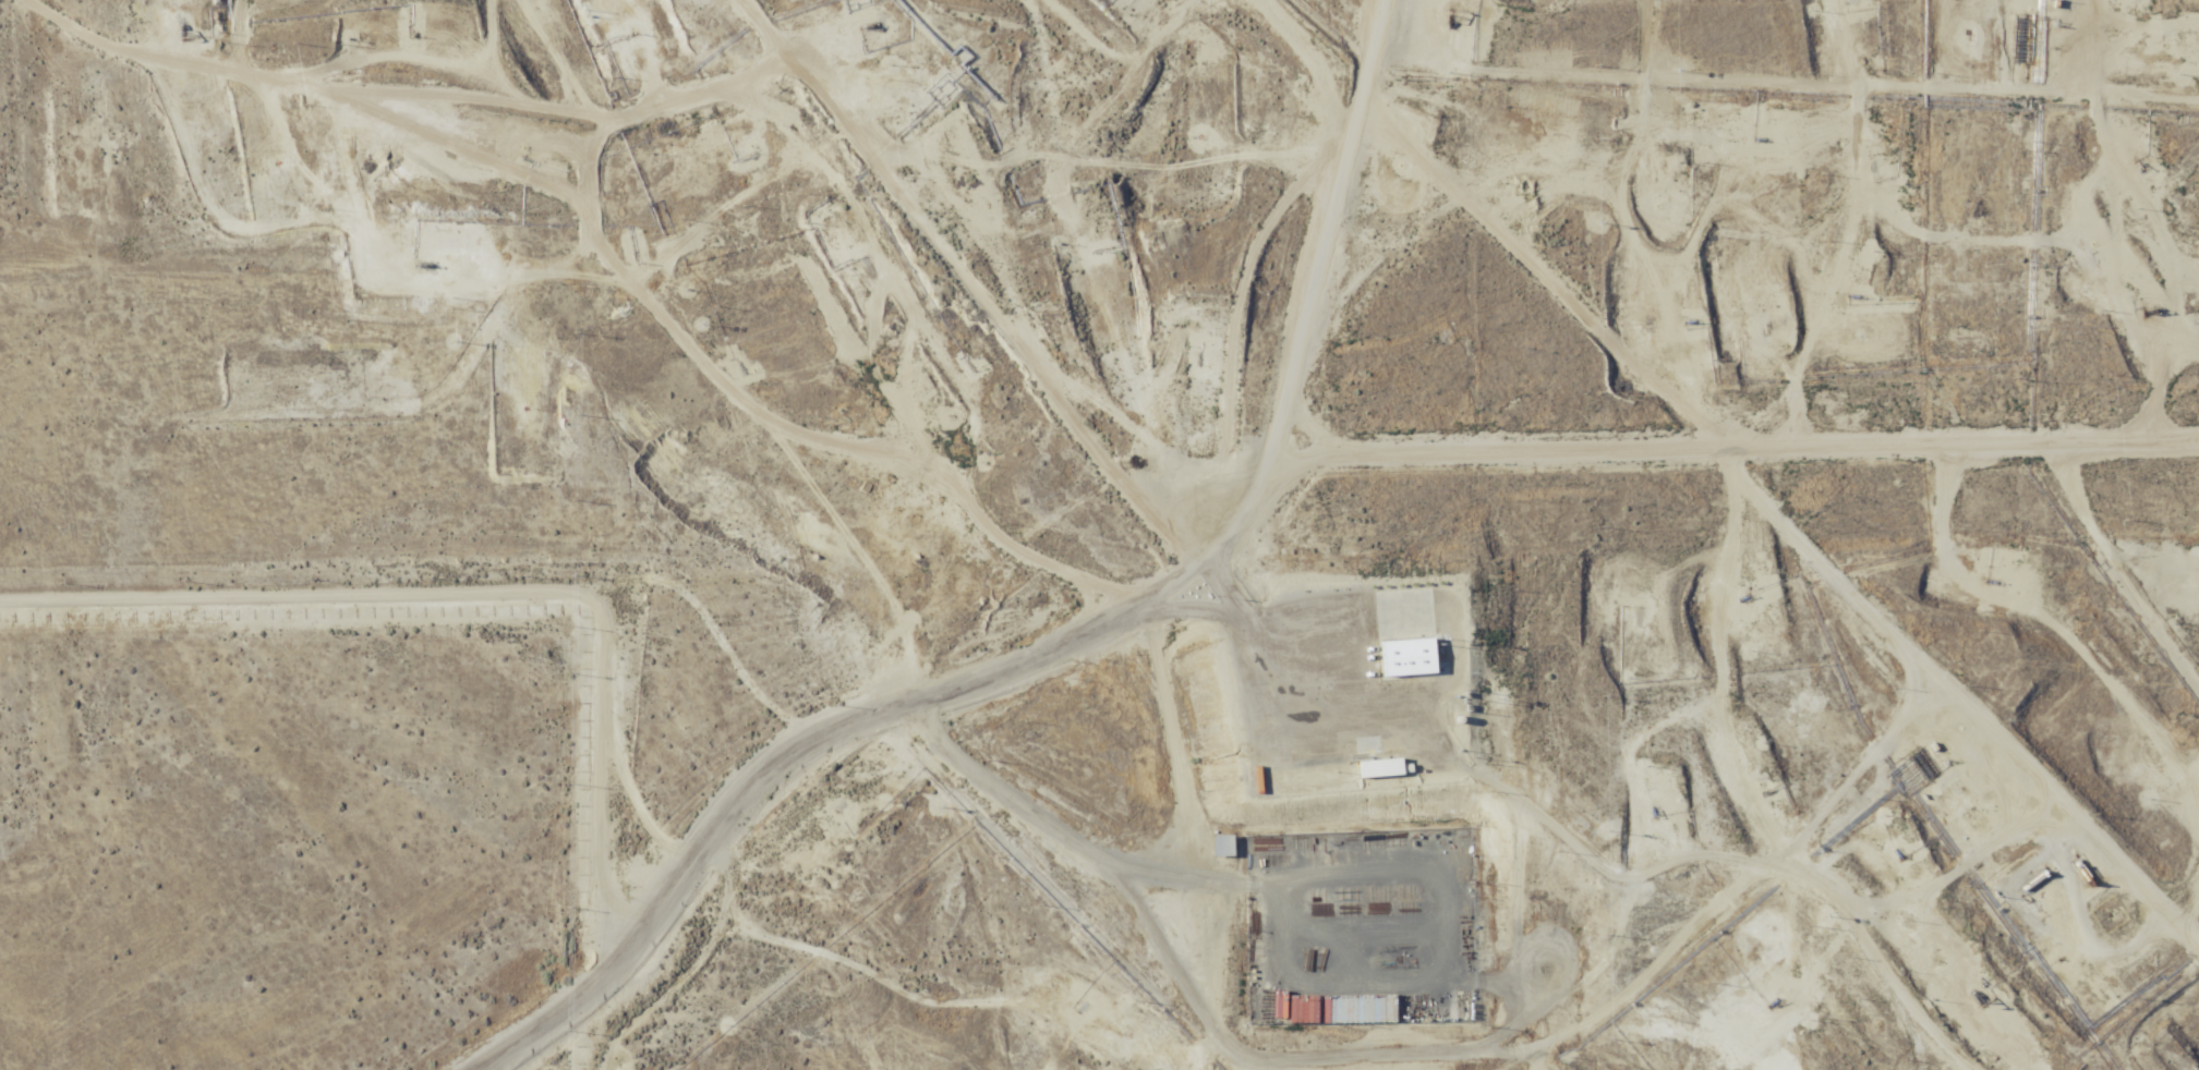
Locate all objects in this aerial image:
road: (1322, 45)
road: (1776, 470)
road: (1247, 496)
building: (1410, 658)
building: (1373, 769)
building: (1309, 774)
building: (1221, 846)
road: (2124, 902)
building: (1278, 1005)

